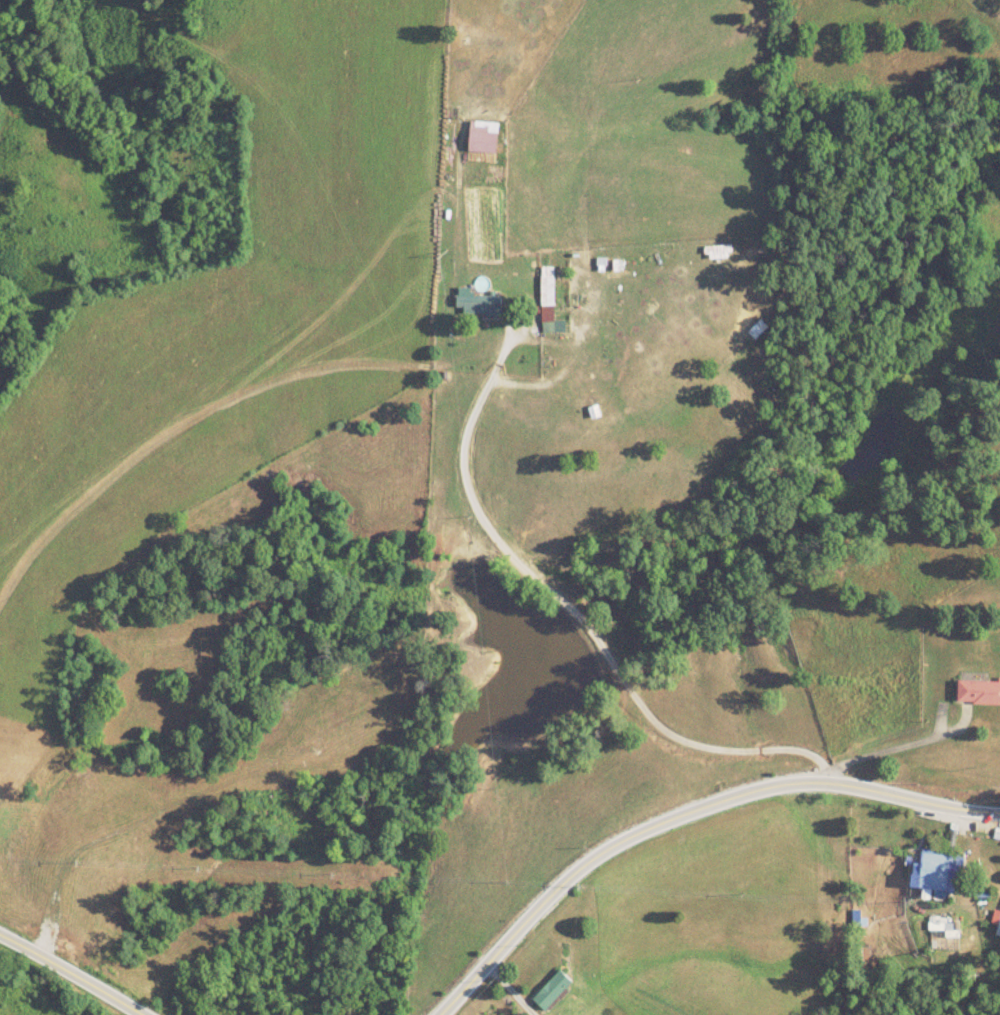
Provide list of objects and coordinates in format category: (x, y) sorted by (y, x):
building: (549, 302)
building: (480, 305)
building: (758, 329)
road: (507, 340)
road: (558, 602)
building: (978, 693)
road: (687, 814)
building: (937, 870)
road: (72, 972)
building: (552, 989)

